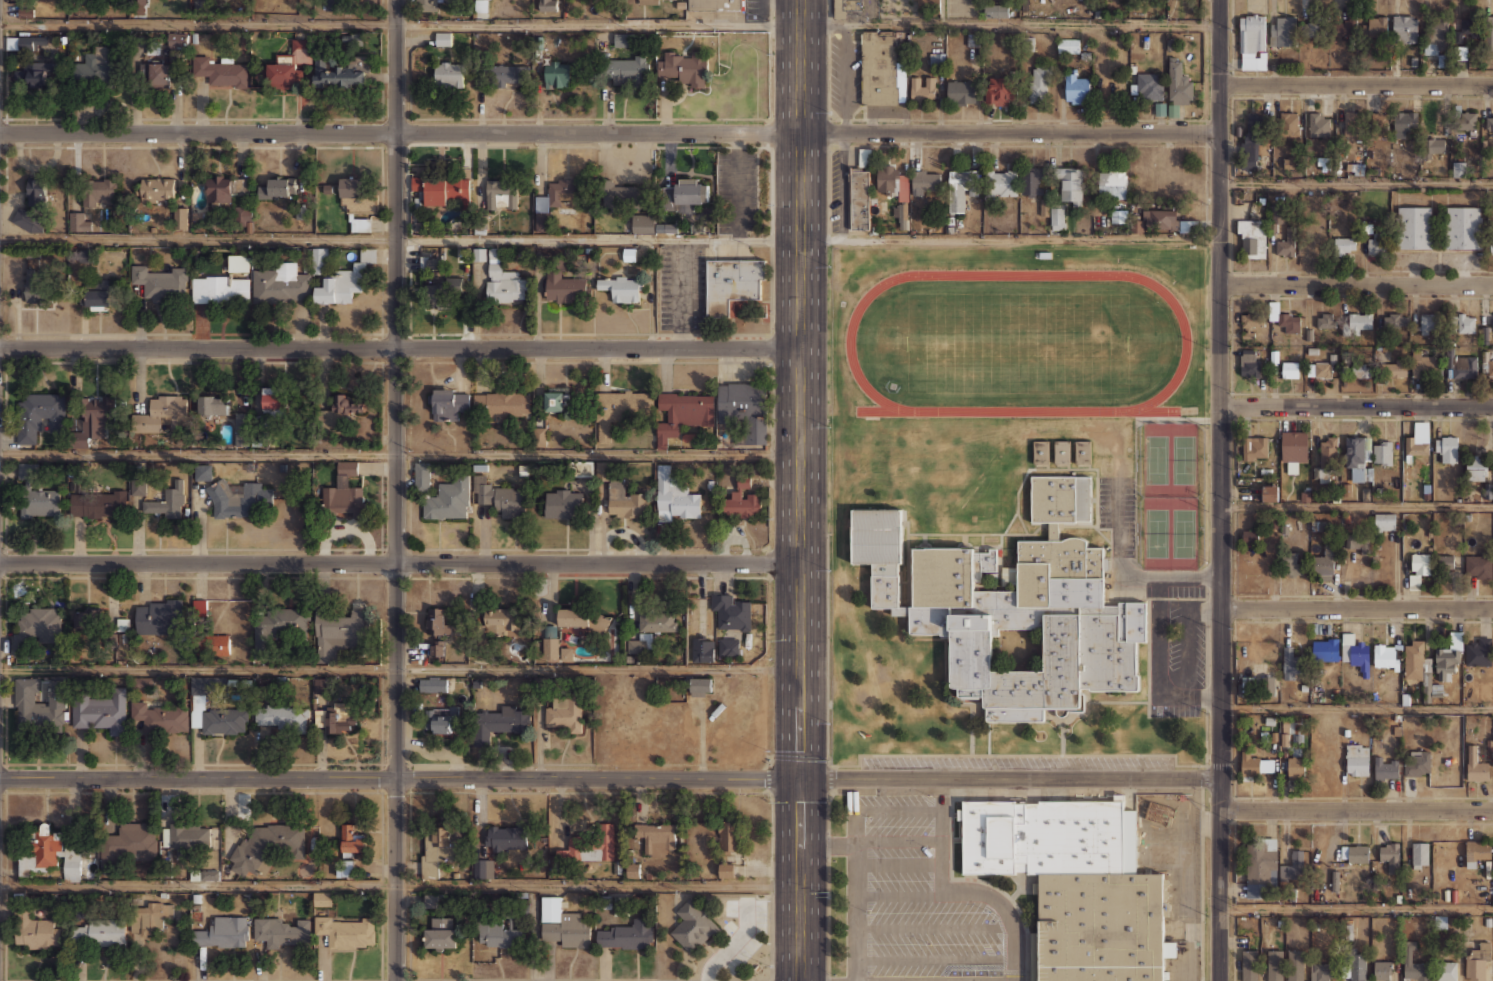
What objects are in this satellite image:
building: (425, 4)
building: (481, 5)
building: (548, 5)
building: (716, 5)
building: (929, 6)
building: (844, 7)
building: (995, 10)
road: (1010, 25)
building: (1470, 26)
road: (400, 27)
building: (1314, 27)
building: (1346, 27)
building: (1375, 27)
building: (1405, 29)
building: (1283, 31)
building: (1488, 32)
building: (174, 38)
building: (442, 38)
building: (1438, 38)
building: (621, 39)
building: (24, 42)
building: (1252, 42)
building: (1068, 45)
building: (1461, 52)
building: (1443, 60)
building: (288, 64)
building: (95, 66)
building: (626, 67)
building: (684, 67)
building: (880, 67)
building: (343, 70)
building: (219, 71)
building: (32, 72)
building: (162, 72)
building: (448, 73)
building: (556, 73)
building: (508, 74)
road: (1356, 82)
building: (1039, 84)
building: (1179, 85)
building: (1150, 86)
building: (922, 88)
building: (1077, 89)
building: (961, 92)
building: (1000, 93)
building: (1465, 121)
building: (1352, 123)
building: (1404, 123)
building: (1489, 123)
building: (1290, 124)
building: (1318, 125)
building: (1379, 125)
road: (610, 131)
building: (1253, 141)
building: (1430, 147)
building: (865, 157)
building: (1290, 162)
building: (1323, 162)
building: (1355, 169)
building: (1459, 169)
building: (889, 181)
building: (925, 181)
building: (1032, 181)
road: (1357, 181)
building: (1001, 183)
building: (1070, 184)
building: (1112, 184)
building: (225, 187)
building: (278, 187)
building: (962, 188)
building: (156, 189)
building: (442, 189)
building: (36, 191)
building: (99, 192)
building: (501, 193)
building: (559, 195)
building: (626, 195)
building: (684, 195)
building: (356, 196)
building: (859, 198)
building: (1276, 214)
building: (241, 215)
building: (1119, 216)
building: (180, 217)
building: (1057, 219)
building: (27, 220)
building: (79, 220)
building: (1162, 221)
building: (361, 223)
building: (643, 223)
building: (1415, 227)
building: (1463, 227)
building: (671, 228)
building: (1252, 238)
road: (610, 240)
building: (1312, 242)
building: (1491, 242)
building: (1286, 243)
building: (1377, 243)
building: (1343, 245)
building: (318, 255)
building: (430, 262)
road: (1018, 274)
track: (1018, 274)
building: (344, 280)
building: (502, 280)
building: (160, 281)
building: (224, 283)
building: (282, 283)
road: (1357, 283)
building: (733, 284)
building: (563, 287)
building: (620, 287)
building: (36, 291)
building: (99, 293)
building: (439, 293)
road: (682, 294)
building: (1284, 318)
building: (1325, 320)
building: (1394, 321)
building: (1429, 321)
building: (1492, 321)
building: (1252, 322)
building: (1359, 322)
building: (1466, 323)
road: (400, 349)
building: (1249, 364)
building: (1423, 365)
building: (1463, 366)
building: (1290, 369)
building: (1394, 369)
building: (1490, 369)
building: (1319, 370)
building: (1361, 370)
building: (1346, 371)
road: (800, 388)
building: (555, 400)
building: (274, 402)
building: (448, 402)
building: (502, 402)
building: (347, 403)
building: (213, 405)
road: (1357, 405)
building: (619, 407)
building: (744, 409)
road: (1018, 411)
track: (1018, 411)
building: (682, 412)
building: (160, 413)
building: (39, 414)
building: (93, 419)
building: (241, 428)
building: (540, 434)
building: (1419, 439)
building: (1255, 447)
building: (1447, 448)
building: (1294, 449)
building: (1041, 452)
building: (1062, 452)
building: (1082, 452)
building: (1382, 452)
road: (400, 453)
building: (1325, 458)
building: (1359, 458)
park: (1156, 459)
park: (1184, 459)
building: (584, 468)
building: (602, 469)
building: (28, 470)
building: (1476, 470)
building: (202, 471)
building: (422, 476)
road: (395, 490)
road: (1221, 490)
building: (343, 491)
building: (1270, 493)
building: (499, 496)
building: (674, 497)
building: (159, 498)
building: (237, 499)
building: (448, 499)
building: (41, 501)
building: (742, 501)
building: (563, 502)
building: (625, 502)
building: (98, 503)
road: (1357, 504)
building: (1384, 523)
park: (1156, 533)
park: (1183, 533)
building: (1250, 536)
building: (1358, 542)
building: (1446, 561)
road: (400, 562)
building: (1326, 562)
building: (980, 563)
building: (1291, 564)
building: (1421, 564)
building: (1479, 565)
building: (1012, 607)
road: (1357, 607)
building: (199, 610)
building: (732, 612)
building: (159, 617)
building: (88, 618)
building: (583, 618)
building: (502, 620)
building: (657, 620)
building: (436, 621)
building: (279, 627)
building: (35, 629)
building: (338, 634)
building: (641, 643)
building: (210, 644)
building: (729, 646)
building: (550, 647)
building: (436, 648)
building: (702, 648)
building: (1326, 650)
building: (1479, 652)
building: (566, 653)
building: (1355, 653)
building: (1385, 656)
building: (1449, 657)
building: (1414, 660)
building: (1291, 663)
road: (436, 668)
building: (1492, 680)
building: (432, 684)
building: (700, 684)
building: (1246, 685)
building: (40, 706)
road: (1357, 707)
building: (100, 709)
building: (565, 712)
building: (283, 714)
building: (161, 716)
building: (339, 716)
building: (442, 719)
building: (224, 721)
building: (501, 721)
building: (1357, 760)
building: (1249, 763)
building: (1417, 763)
building: (1295, 766)
building: (1476, 766)
building: (1385, 769)
road: (1010, 777)
road: (399, 778)
traffic signals: (799, 778)
road: (1357, 808)
building: (1163, 826)
building: (730, 836)
road: (939, 836)
building: (1047, 836)
building: (507, 837)
building: (656, 837)
building: (187, 838)
building: (352, 840)
building: (129, 842)
building: (441, 845)
building: (587, 845)
building: (267, 847)
building: (39, 850)
building: (1477, 852)
building: (1355, 853)
building: (1420, 854)
building: (1390, 856)
building: (73, 863)
building: (1296, 865)
building: (483, 867)
building: (348, 868)
building: (1262, 868)
building: (632, 869)
building: (726, 869)
building: (205, 874)
road: (798, 879)
building: (1335, 882)
road: (398, 885)
building: (322, 897)
building: (434, 899)
parking lot: (919, 900)
road: (1356, 907)
road: (855, 912)
building: (149, 917)
building: (693, 924)
building: (1100, 926)
building: (37, 930)
building: (567, 930)
building: (280, 931)
building: (100, 932)
building: (224, 932)
building: (496, 932)
building: (346, 933)
building: (442, 934)
building: (626, 934)
parking lot: (736, 934)
road: (733, 944)
building: (1478, 962)
building: (1414, 964)
building: (1250, 965)
building: (1275, 965)
building: (1295, 965)
building: (1357, 967)
building: (1382, 970)
building: (1446, 971)
building: (1321, 972)

